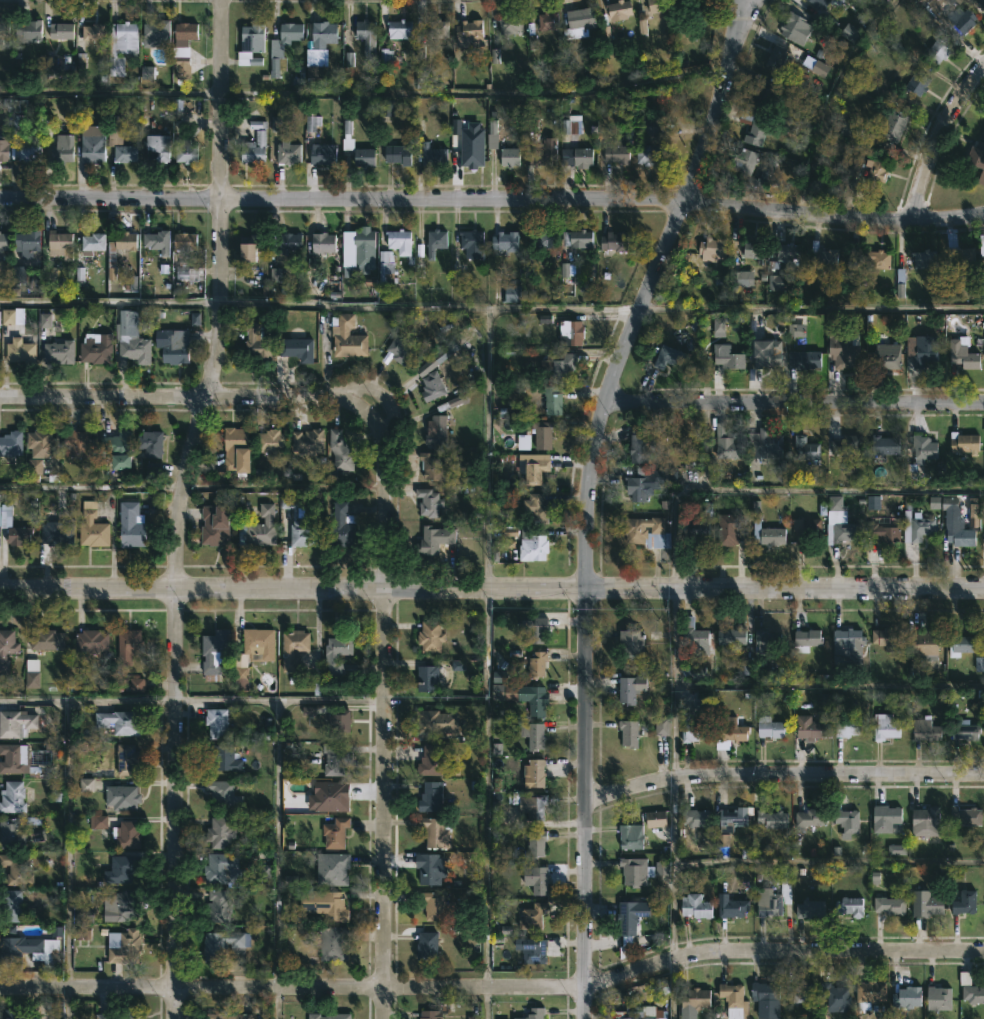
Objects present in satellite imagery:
building: (688, 2)
building: (980, 3)
building: (820, 4)
building: (657, 5)
building: (619, 9)
road: (745, 13)
building: (547, 20)
building: (962, 20)
building: (578, 22)
building: (509, 23)
building: (399, 28)
building: (438, 28)
building: (30, 29)
building: (470, 29)
building: (796, 29)
building: (3, 30)
building: (60, 30)
building: (91, 31)
building: (289, 31)
building: (155, 33)
building: (364, 34)
building: (252, 37)
building: (120, 44)
building: (318, 48)
building: (182, 49)
building: (938, 50)
building: (776, 55)
building: (276, 59)
building: (918, 82)
road: (111, 91)
road: (831, 100)
building: (894, 124)
building: (754, 127)
building: (14, 136)
road: (935, 136)
building: (119, 142)
building: (92, 143)
building: (157, 146)
building: (62, 147)
building: (538, 147)
building: (4, 148)
building: (254, 148)
building: (185, 151)
building: (287, 152)
building: (323, 153)
building: (433, 153)
building: (617, 153)
building: (647, 153)
building: (398, 154)
building: (471, 155)
building: (509, 156)
building: (583, 156)
building: (363, 157)
building: (977, 158)
building: (752, 169)
building: (876, 170)
road: (492, 199)
building: (545, 239)
building: (577, 239)
building: (3, 240)
building: (184, 240)
building: (399, 240)
building: (93, 241)
building: (157, 241)
building: (289, 241)
building: (435, 241)
building: (506, 241)
building: (614, 241)
building: (27, 242)
building: (322, 243)
building: (472, 243)
building: (59, 244)
building: (250, 245)
building: (364, 248)
building: (712, 248)
building: (754, 249)
building: (787, 252)
building: (824, 258)
building: (876, 258)
building: (925, 258)
building: (962, 261)
building: (111, 264)
building: (385, 273)
building: (186, 275)
building: (513, 291)
road: (111, 302)
road: (432, 306)
road: (813, 307)
building: (127, 322)
building: (571, 332)
building: (347, 337)
building: (256, 342)
building: (173, 348)
building: (296, 348)
building: (135, 349)
building: (20, 350)
building: (402, 350)
building: (925, 350)
building: (58, 351)
building: (95, 352)
building: (766, 353)
building: (843, 353)
building: (963, 353)
building: (667, 357)
building: (728, 358)
building: (885, 358)
building: (805, 360)
building: (563, 365)
building: (432, 386)
road: (205, 397)
building: (552, 400)
road: (794, 403)
building: (437, 430)
building: (543, 434)
building: (642, 441)
building: (964, 442)
building: (11, 443)
building: (40, 443)
building: (78, 443)
building: (150, 443)
building: (270, 443)
building: (731, 444)
building: (765, 444)
building: (847, 444)
building: (886, 444)
building: (309, 446)
building: (806, 448)
building: (117, 449)
building: (924, 449)
building: (235, 450)
building: (337, 454)
building: (431, 466)
building: (533, 467)
building: (639, 485)
road: (283, 487)
road: (91, 488)
road: (782, 490)
road: (584, 496)
building: (428, 502)
road: (179, 506)
building: (536, 508)
building: (840, 524)
building: (131, 525)
building: (214, 525)
building: (298, 525)
building: (917, 526)
building: (92, 527)
building: (262, 527)
building: (342, 527)
building: (697, 527)
building: (729, 529)
building: (766, 529)
building: (807, 529)
building: (646, 532)
building: (884, 532)
building: (56, 534)
building: (17, 535)
building: (962, 536)
building: (433, 540)
building: (532, 546)
road: (492, 589)
building: (537, 630)
building: (430, 636)
building: (732, 637)
building: (769, 639)
building: (888, 639)
building: (46, 640)
building: (807, 640)
building: (850, 640)
building: (91, 641)
building: (698, 641)
building: (924, 643)
building: (258, 644)
building: (960, 644)
building: (631, 645)
building: (128, 646)
building: (6, 649)
building: (293, 649)
building: (214, 653)
building: (336, 653)
road: (485, 663)
building: (537, 666)
building: (430, 676)
building: (241, 680)
building: (32, 681)
road: (674, 684)
building: (630, 689)
road: (279, 698)
building: (533, 699)
road: (87, 700)
building: (436, 722)
building: (18, 723)
building: (118, 723)
building: (216, 723)
building: (339, 723)
building: (661, 727)
building: (849, 727)
building: (886, 727)
building: (771, 728)
building: (809, 728)
building: (927, 729)
building: (697, 731)
building: (966, 731)
building: (730, 732)
road: (383, 733)
building: (629, 733)
building: (535, 737)
building: (222, 758)
building: (24, 759)
building: (336, 759)
building: (127, 760)
building: (430, 761)
building: (535, 773)
road: (781, 777)
building: (223, 794)
building: (525, 795)
building: (333, 796)
building: (12, 797)
building: (121, 798)
building: (430, 798)
building: (536, 807)
building: (965, 816)
building: (733, 818)
building: (772, 818)
building: (811, 818)
building: (656, 819)
building: (885, 819)
building: (694, 821)
building: (847, 822)
building: (926, 822)
building: (435, 831)
building: (219, 833)
building: (11, 834)
building: (335, 834)
building: (127, 836)
building: (631, 836)
road: (67, 844)
road: (277, 844)
building: (536, 845)
building: (219, 867)
building: (120, 868)
building: (336, 869)
building: (430, 869)
building: (16, 870)
road: (672, 870)
building: (641, 871)
building: (536, 880)
building: (774, 897)
building: (964, 903)
building: (926, 904)
building: (889, 905)
building: (10, 906)
building: (218, 906)
building: (332, 906)
building: (434, 906)
building: (696, 907)
building: (731, 907)
building: (122, 908)
building: (849, 908)
building: (810, 909)
building: (629, 916)
building: (532, 917)
building: (332, 944)
building: (222, 946)
building: (123, 947)
building: (427, 947)
building: (532, 948)
building: (29, 950)
road: (777, 962)
road: (494, 987)
building: (971, 988)
road: (670, 989)
building: (801, 992)
building: (871, 993)
building: (836, 995)
building: (906, 995)
building: (939, 997)
building: (695, 998)
building: (733, 999)
building: (766, 999)
road: (69, 1004)
road: (276, 1004)
building: (643, 1012)
building: (19, 1013)
building: (533, 1013)
building: (430, 1014)
building: (120, 1015)
building: (330, 1015)
building: (227, 1016)

